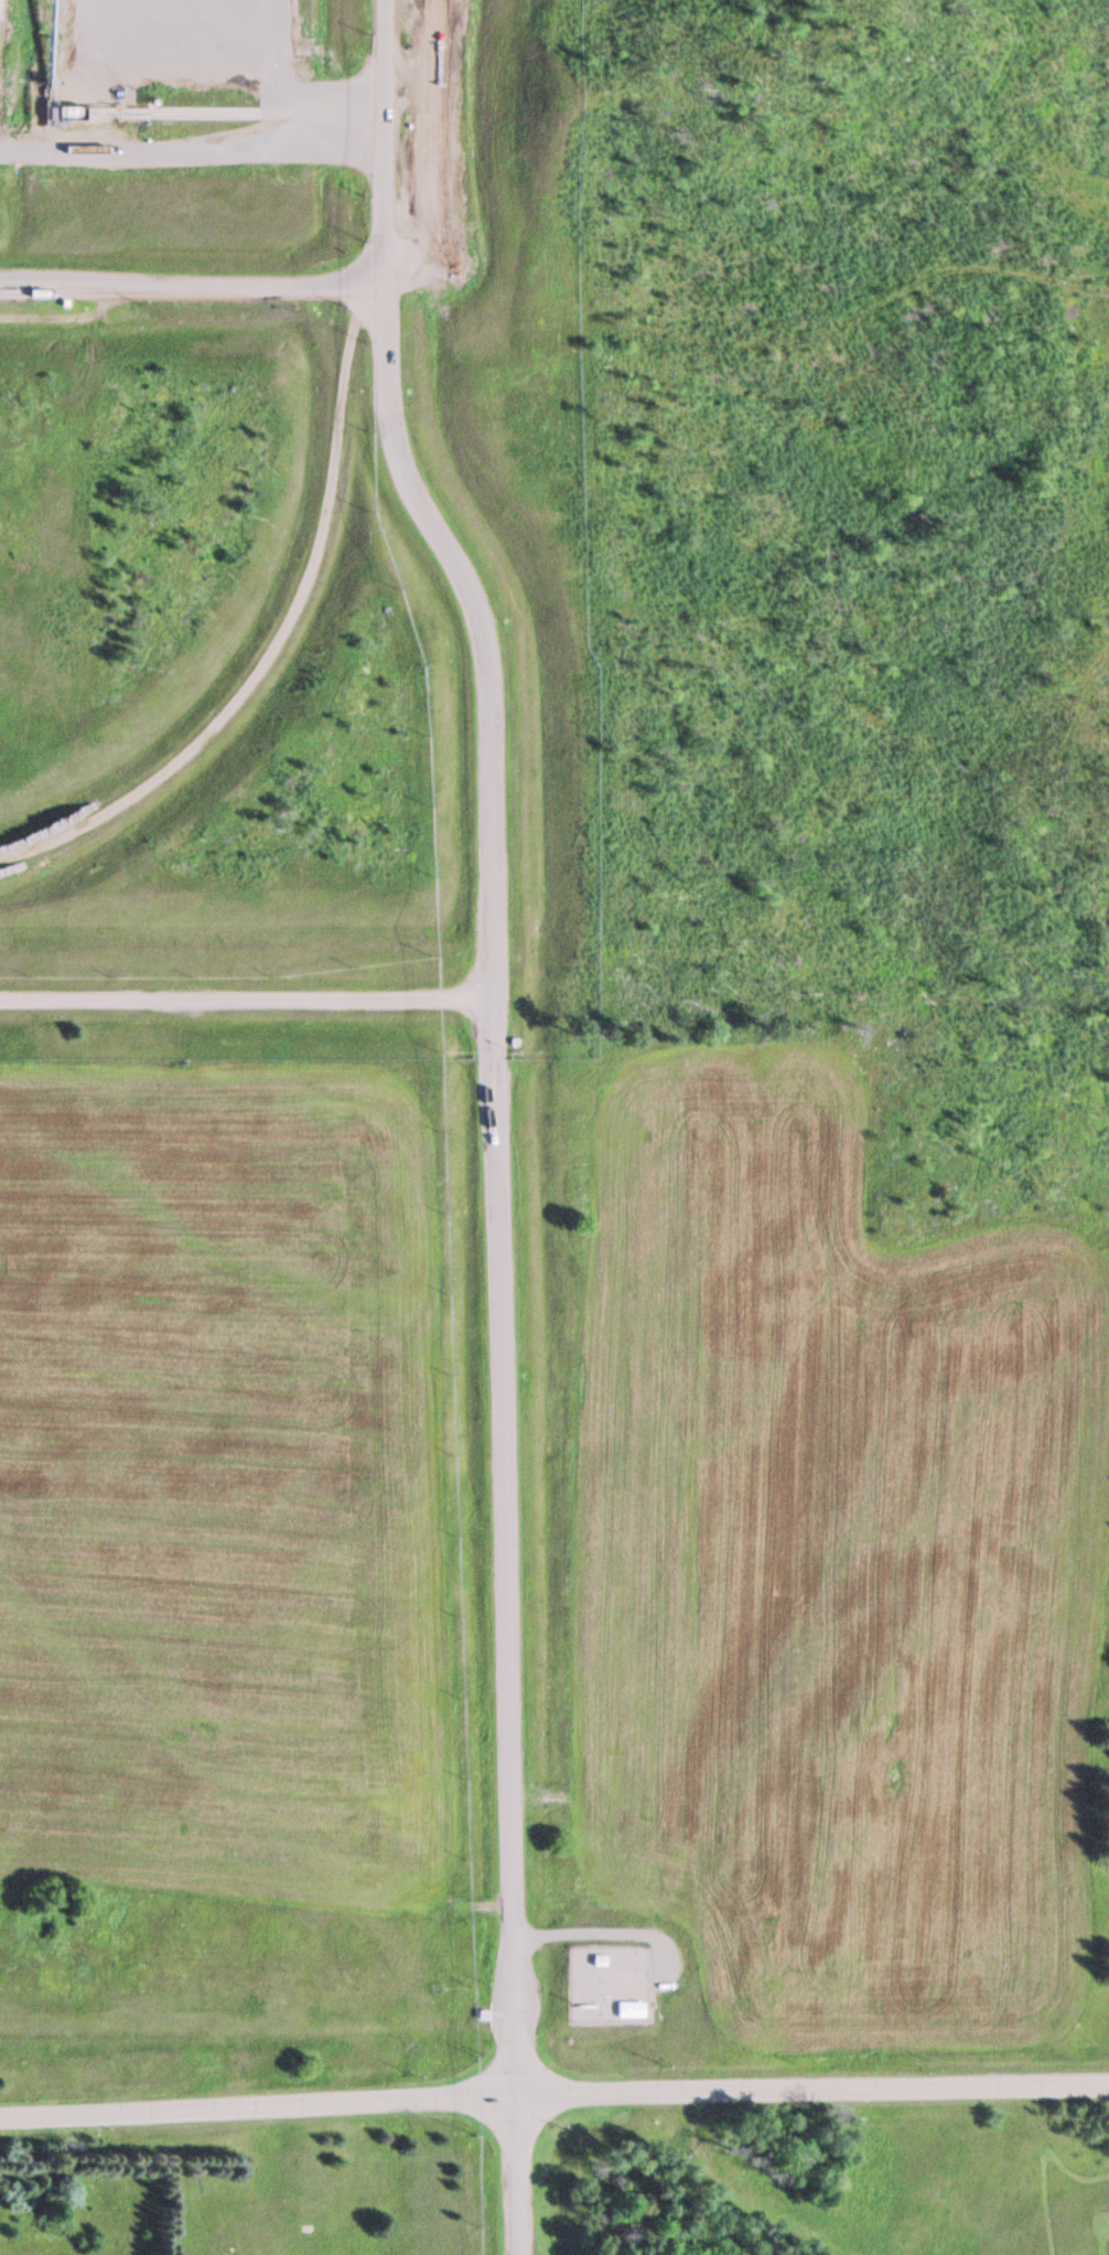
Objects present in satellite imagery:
road: (194, 284)
road: (281, 633)
road: (246, 997)
road: (492, 1037)
building: (595, 1963)
building: (629, 2011)
road: (553, 2095)
road: (521, 2176)

